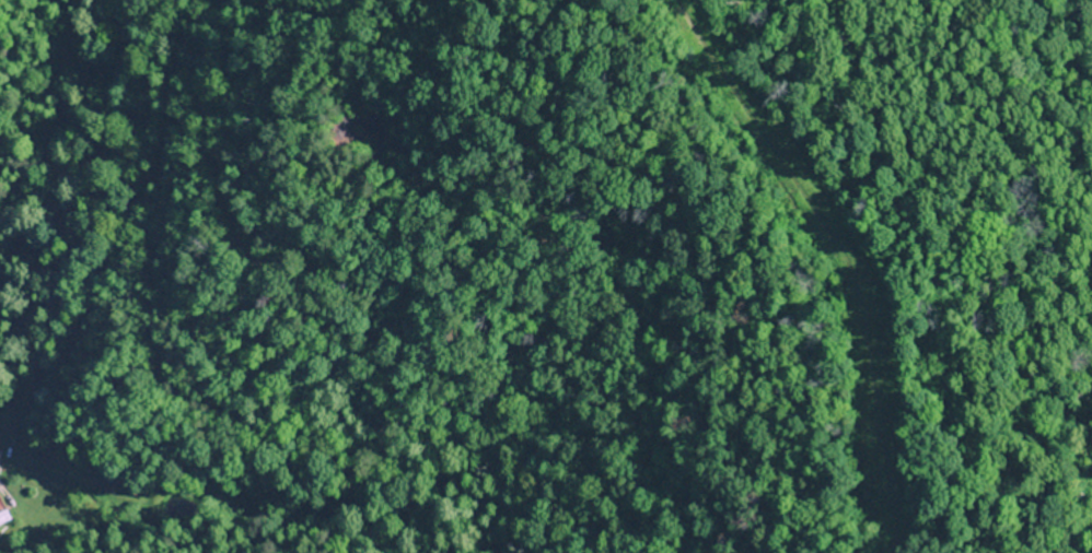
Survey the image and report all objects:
building: (2, 518)

